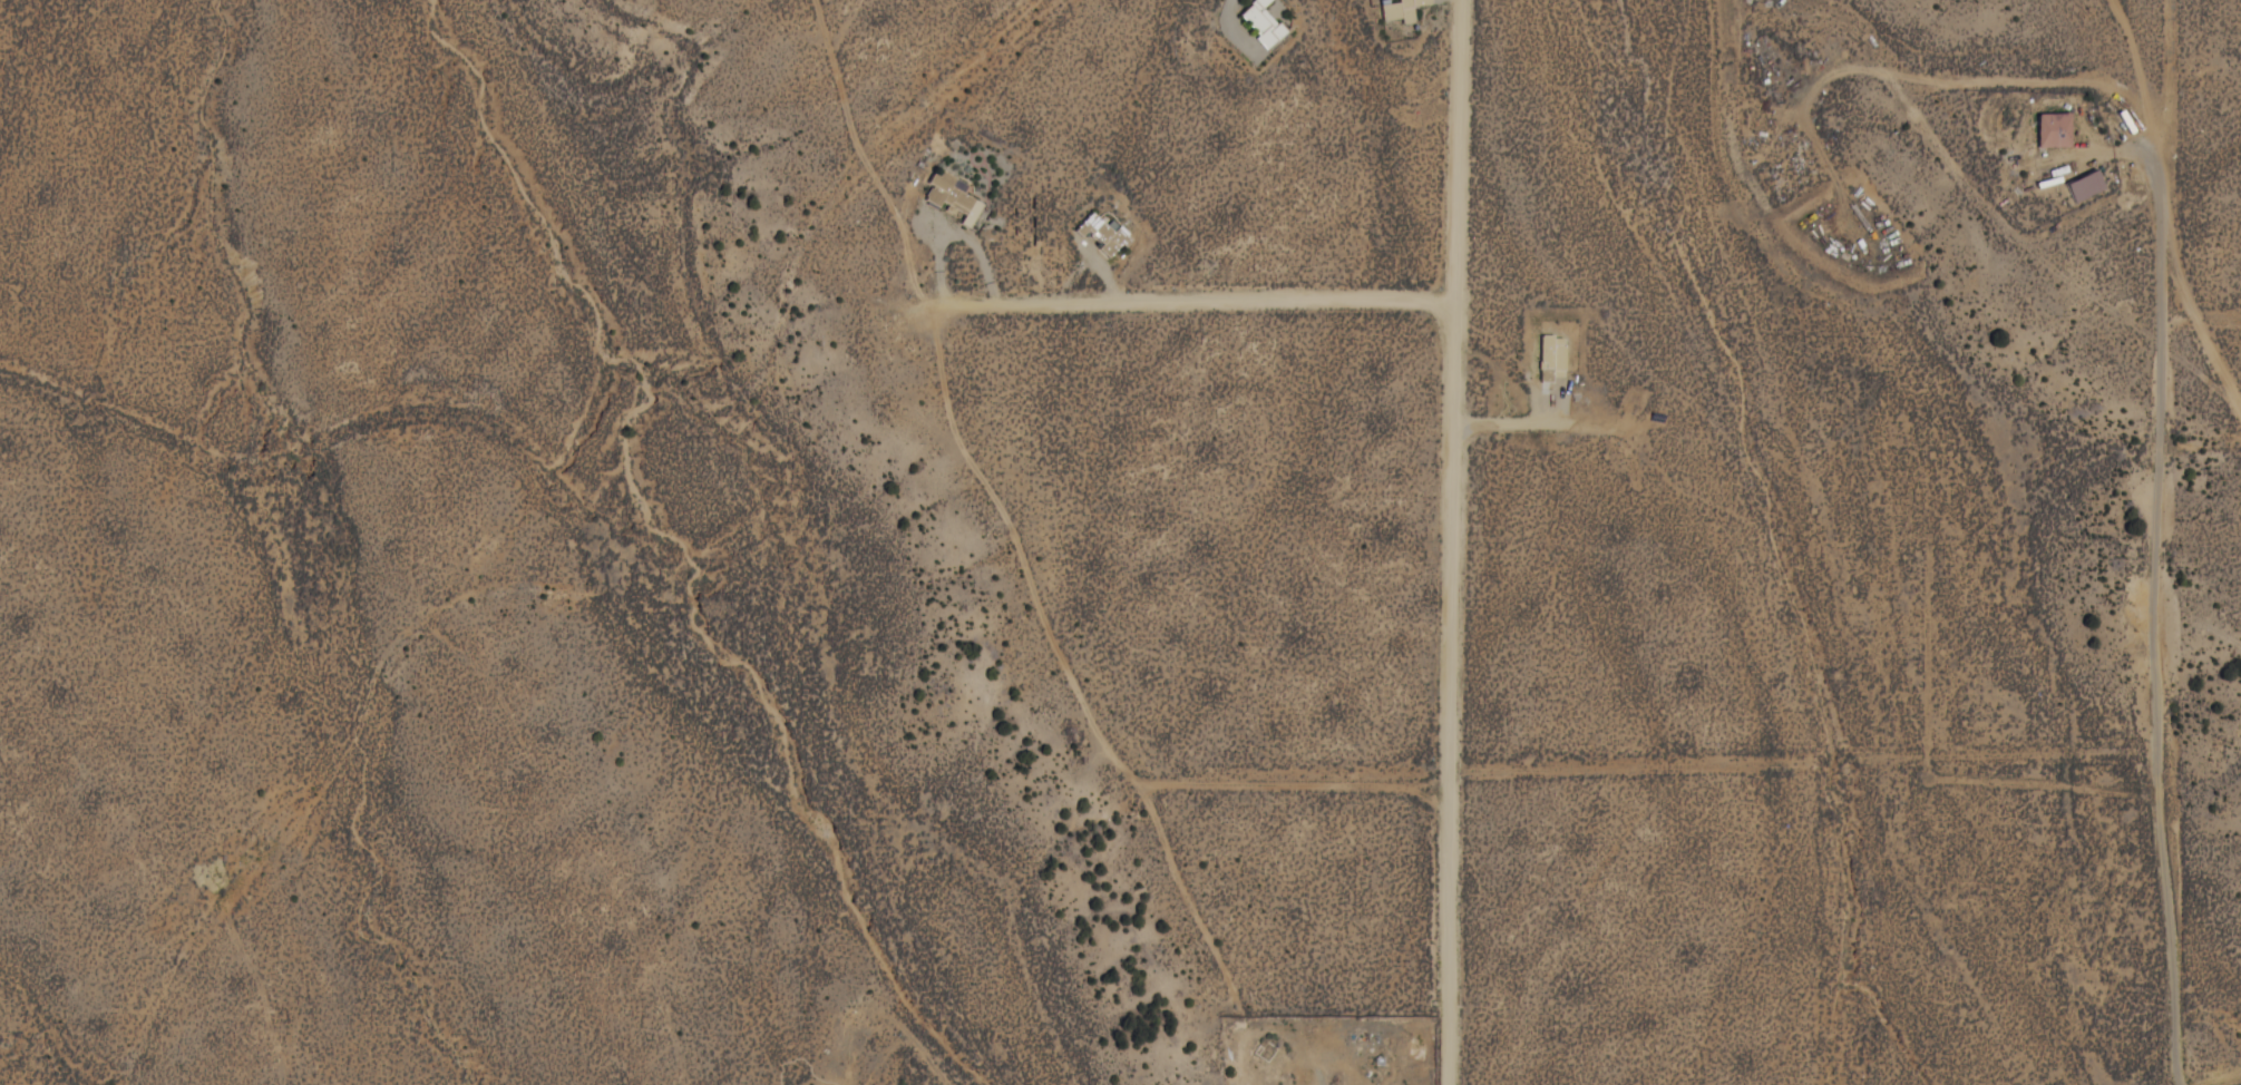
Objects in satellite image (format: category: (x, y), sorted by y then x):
road: (1196, 299)
building: (1552, 355)
road: (1451, 541)

